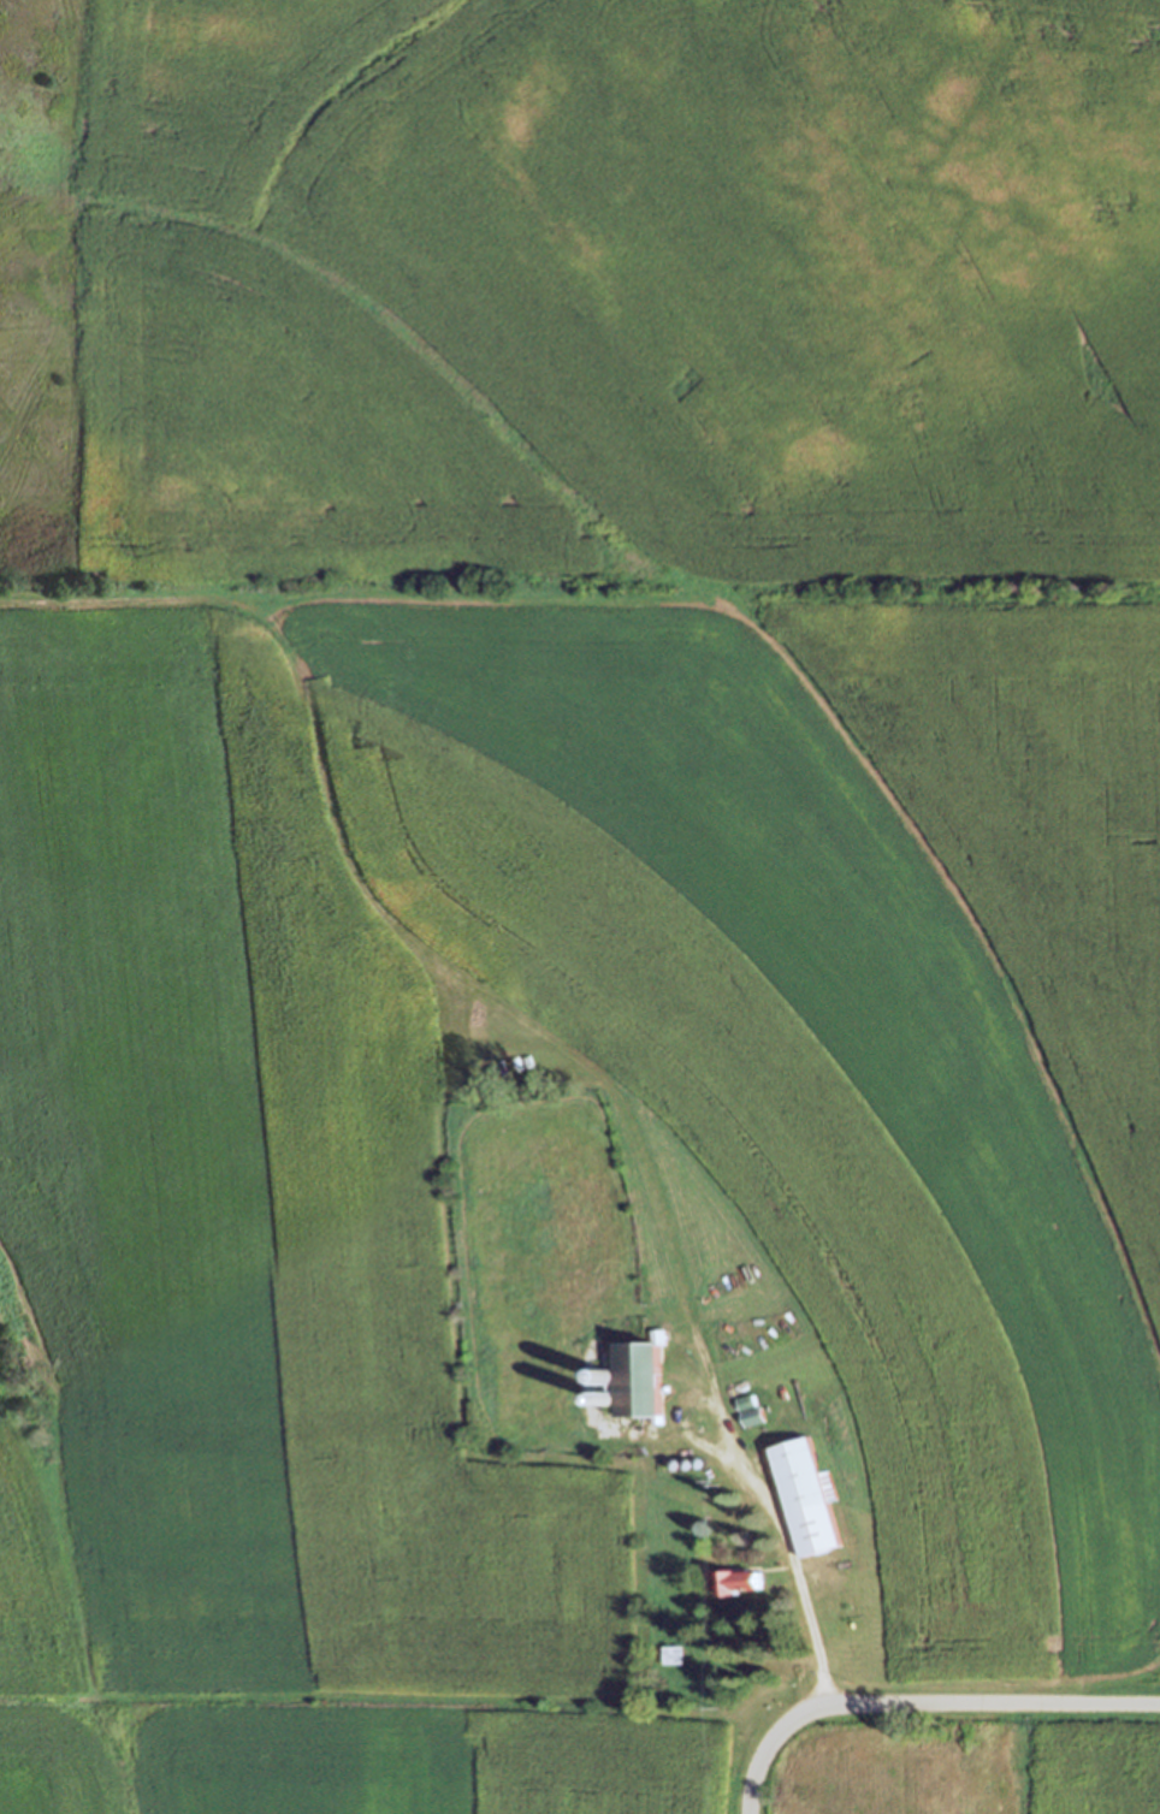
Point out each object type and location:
building: (640, 1376)
building: (753, 1416)
building: (810, 1495)
road: (770, 1506)
building: (740, 1579)
building: (674, 1654)
road: (921, 1705)

